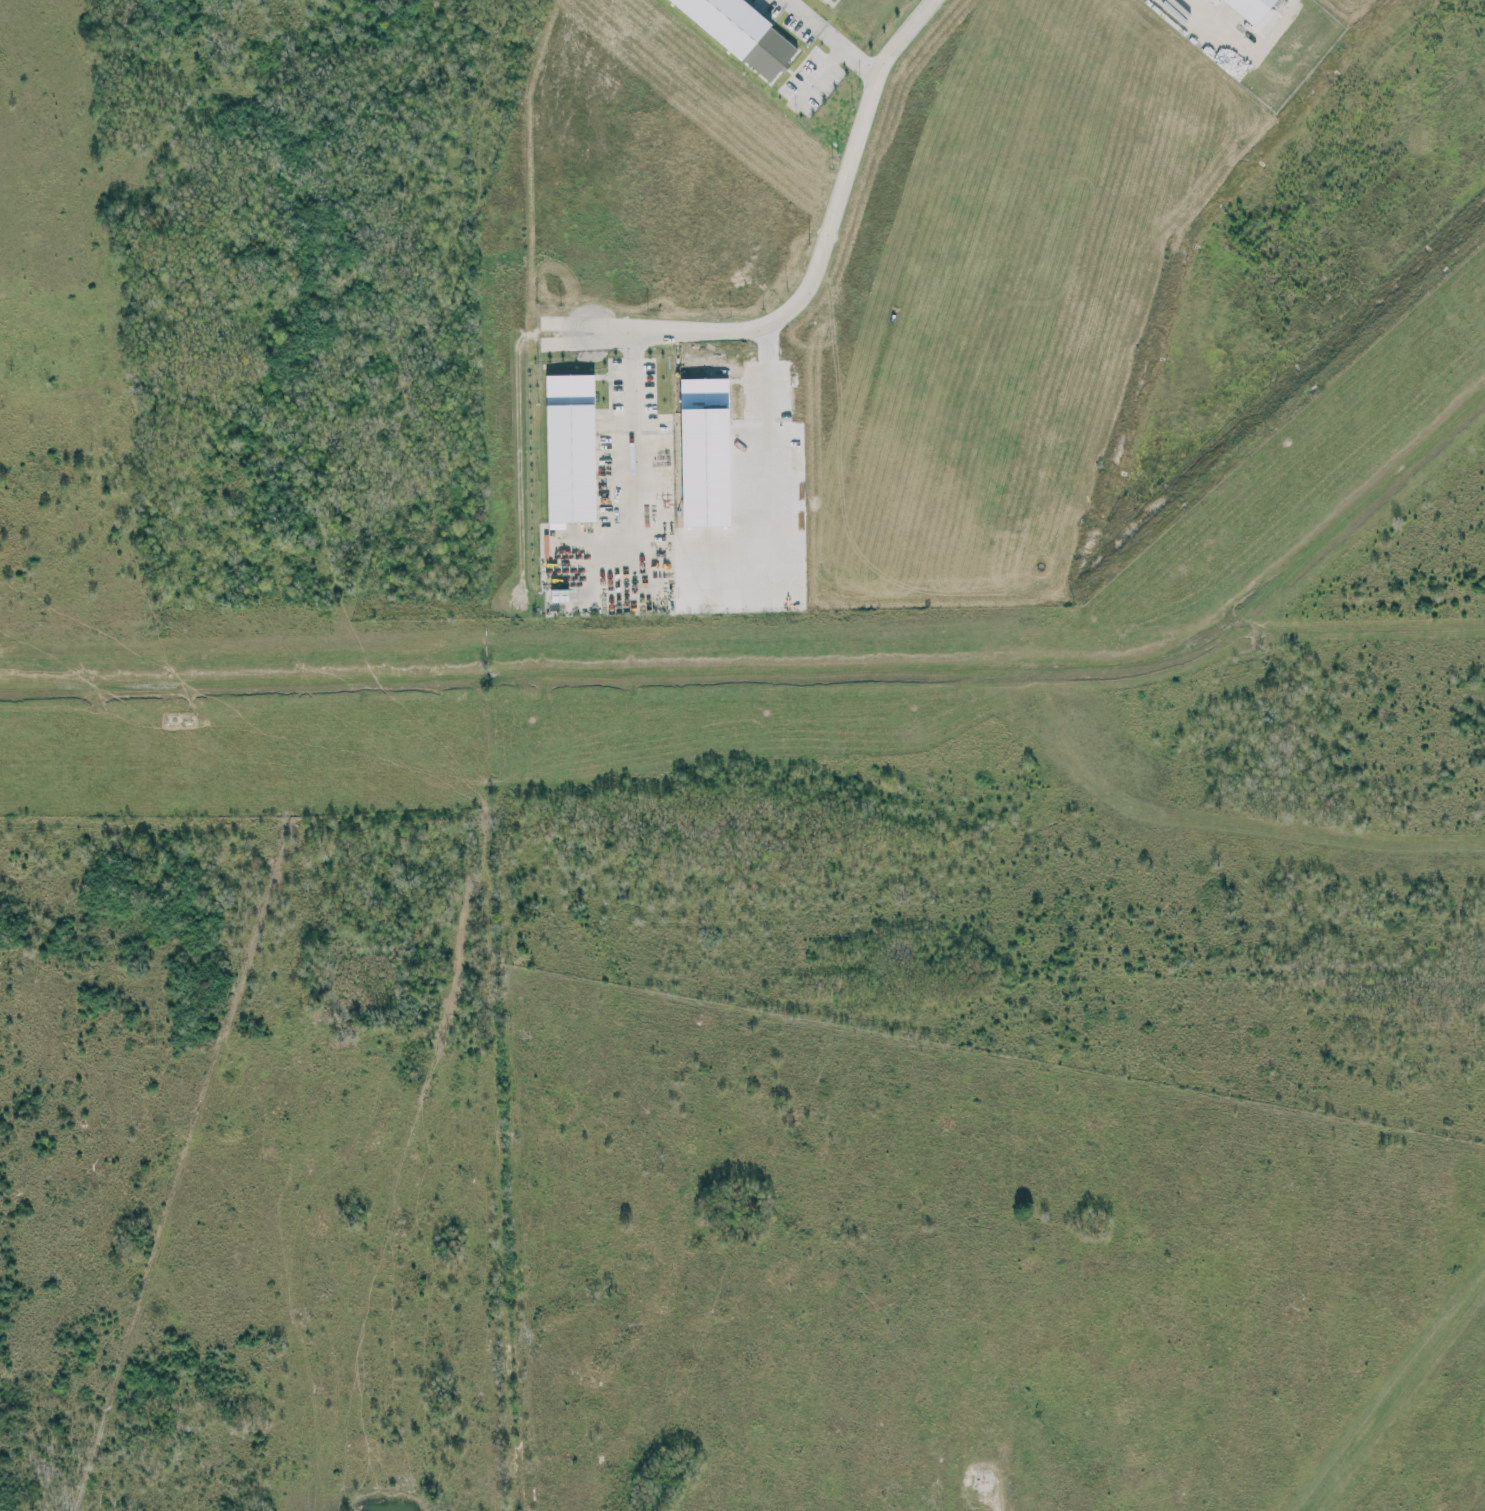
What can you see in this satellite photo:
building: (1252, 7)
road: (1209, 14)
building: (744, 32)
road: (827, 38)
road: (827, 229)
road: (635, 378)
building: (571, 447)
road: (994, 1497)

